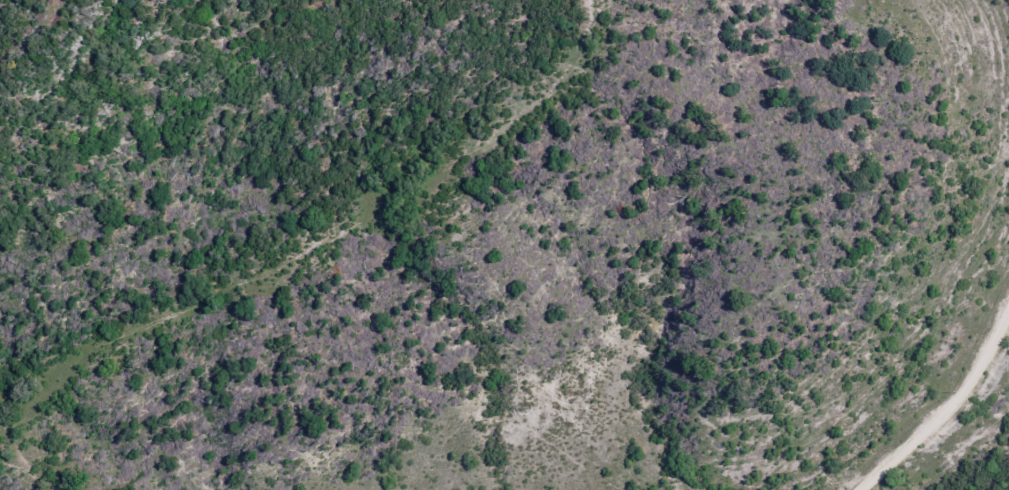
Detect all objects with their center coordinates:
road: (946, 416)

